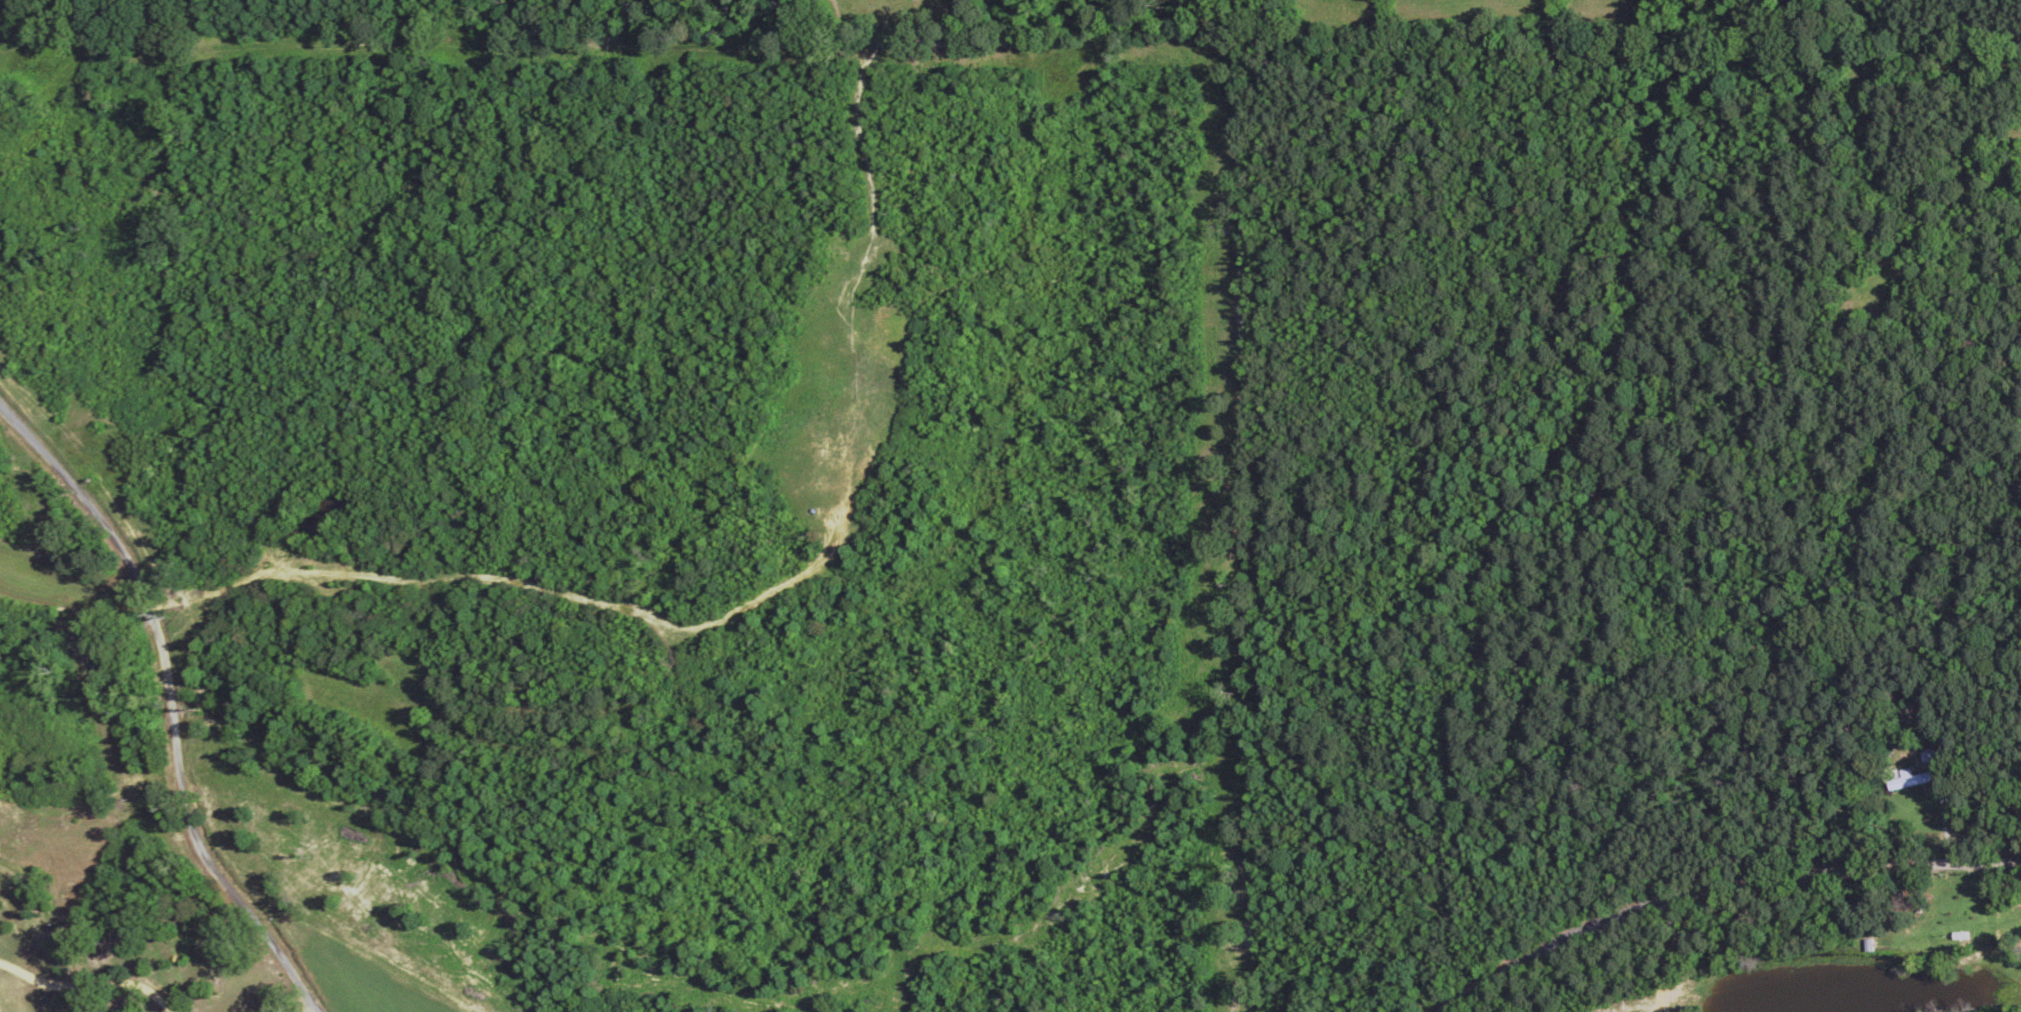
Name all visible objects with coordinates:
road: (184, 704)
building: (1904, 781)
road: (1746, 913)
building: (196, 951)

